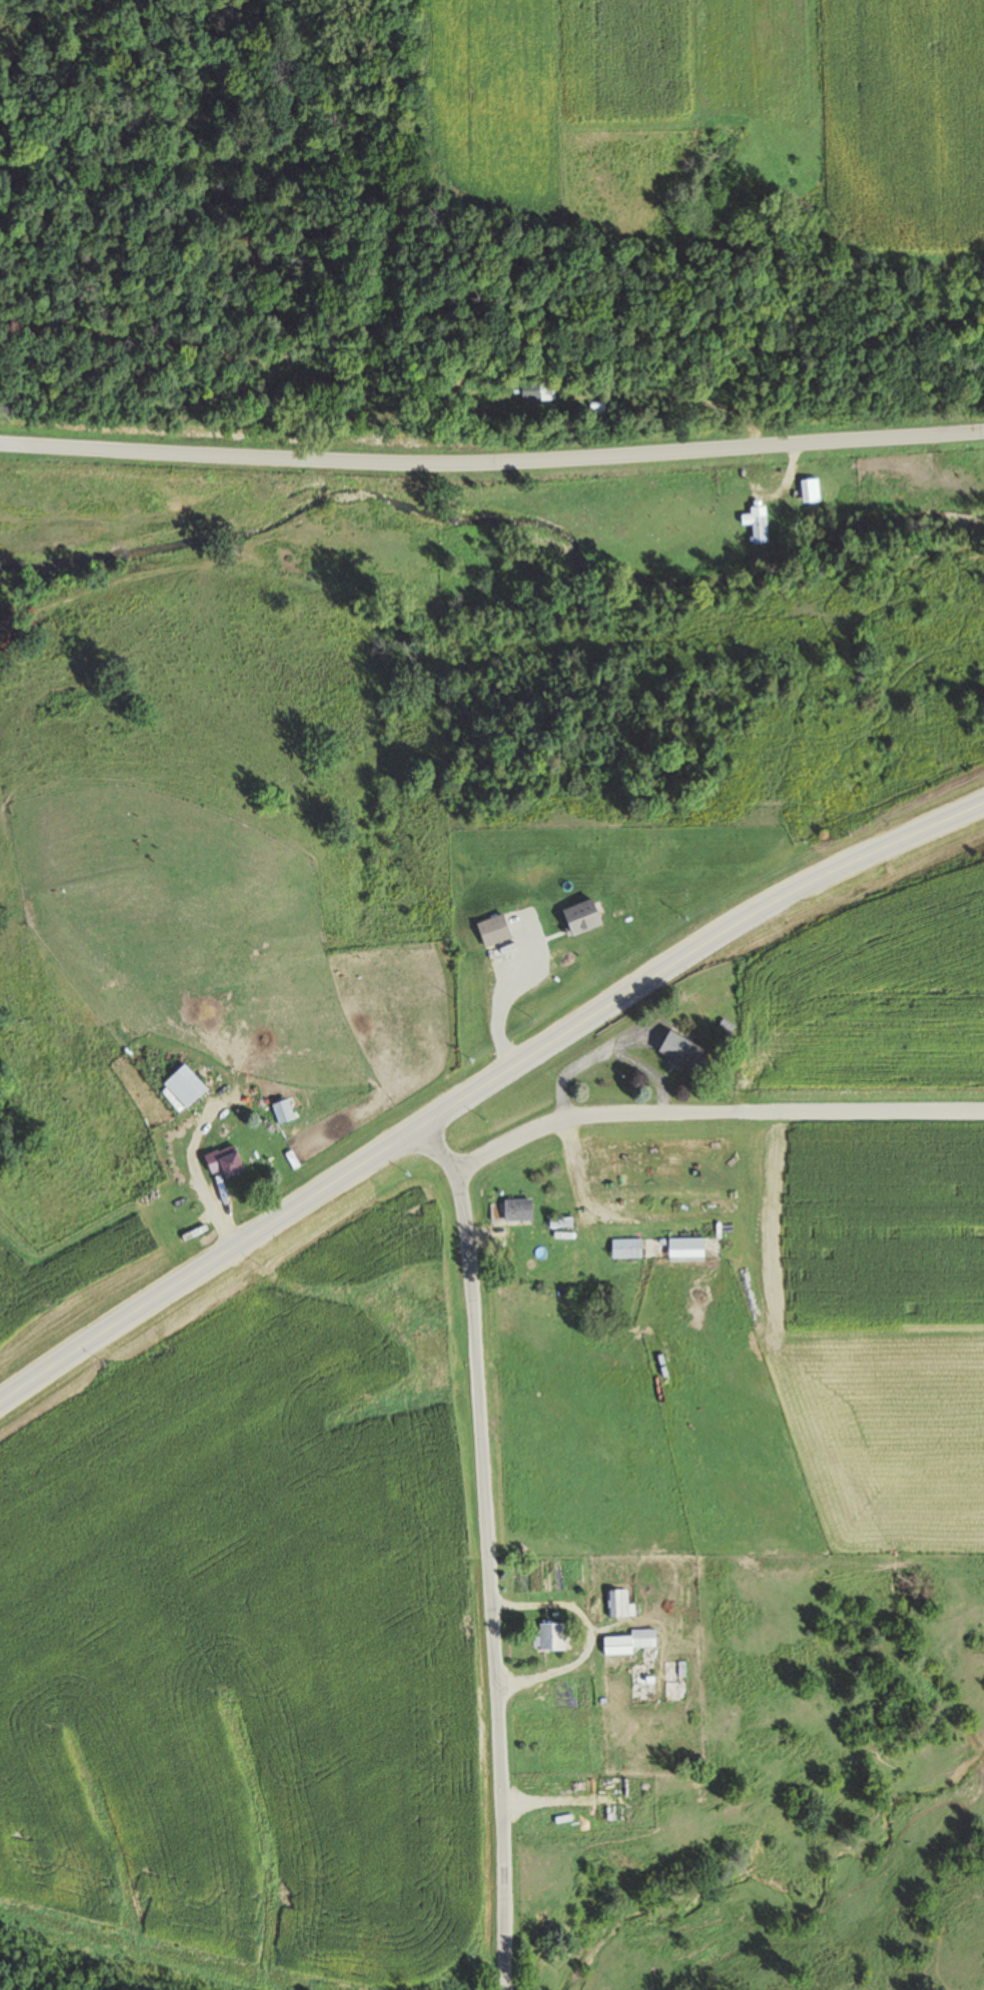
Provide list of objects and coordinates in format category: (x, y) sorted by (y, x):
building: (536, 391)
building: (594, 408)
road: (492, 437)
building: (790, 510)
building: (756, 523)
building: (579, 917)
building: (492, 929)
building: (680, 1052)
building: (183, 1086)
road: (483, 1086)
road: (712, 1109)
building: (282, 1111)
building: (223, 1161)
road: (196, 1175)
building: (510, 1210)
building: (559, 1222)
building: (684, 1244)
building: (624, 1248)
road: (483, 1552)
building: (616, 1601)
building: (549, 1634)
building: (627, 1640)
building: (516, 1704)

